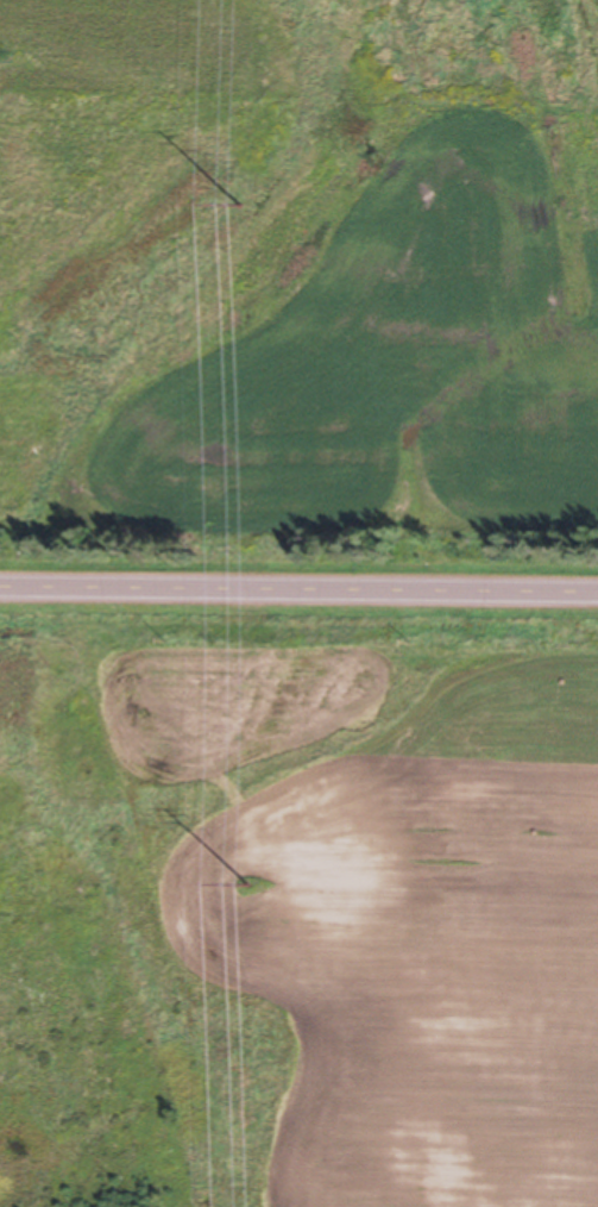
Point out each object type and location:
power tower: (239, 205)
road: (298, 593)
power tower: (245, 886)
road: (516, 1133)

